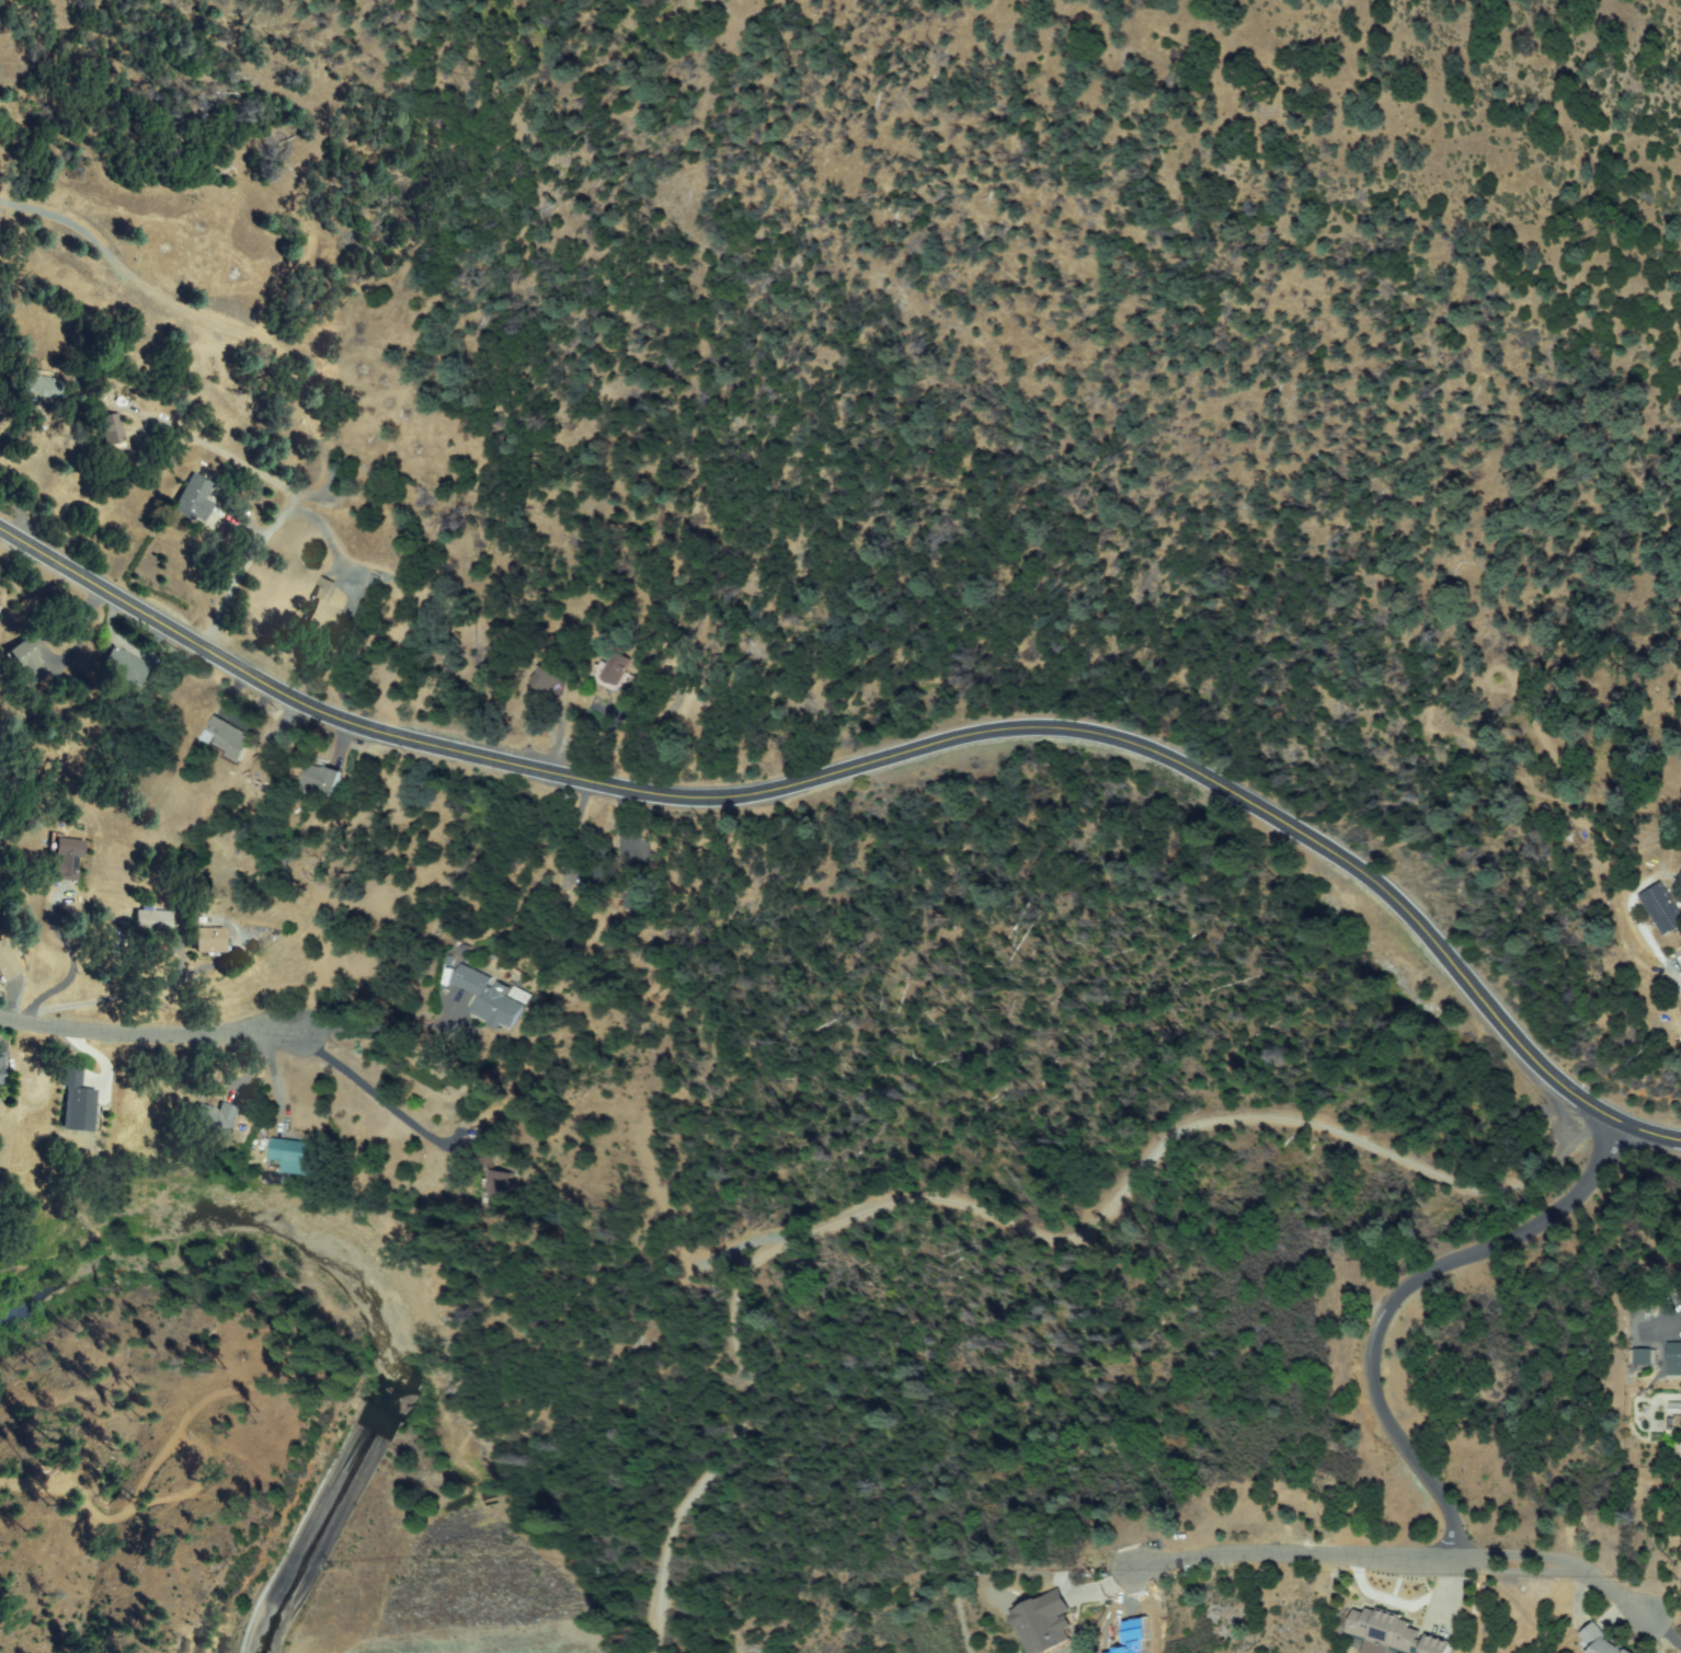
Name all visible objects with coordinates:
building: (44, 388)
building: (100, 429)
building: (113, 432)
building: (196, 497)
road: (244, 503)
road: (260, 533)
building: (315, 608)
building: (325, 611)
building: (27, 662)
building: (125, 664)
building: (617, 668)
building: (599, 671)
building: (525, 677)
building: (547, 677)
road: (728, 723)
building: (231, 738)
road: (884, 753)
building: (267, 768)
building: (322, 778)
building: (597, 851)
building: (69, 860)
building: (573, 876)
building: (587, 880)
building: (631, 897)
building: (1666, 908)
building: (1, 918)
building: (155, 919)
building: (211, 941)
building: (8, 962)
building: (1678, 964)
building: (489, 998)
road: (142, 1035)
building: (1, 1075)
building: (73, 1077)
building: (81, 1107)
building: (216, 1120)
building: (488, 1149)
building: (278, 1156)
building: (298, 1156)
building: (478, 1186)
building: (494, 1189)
road: (993, 1221)
road: (1392, 1298)
building: (1644, 1356)
building: (1676, 1358)
building: (1655, 1416)
road: (206, 1447)
road: (78, 1490)
road: (1399, 1558)
building: (1049, 1623)
building: (1383, 1629)
building: (1587, 1641)
building: (1601, 1641)
building: (1436, 1645)
building: (1628, 1652)

